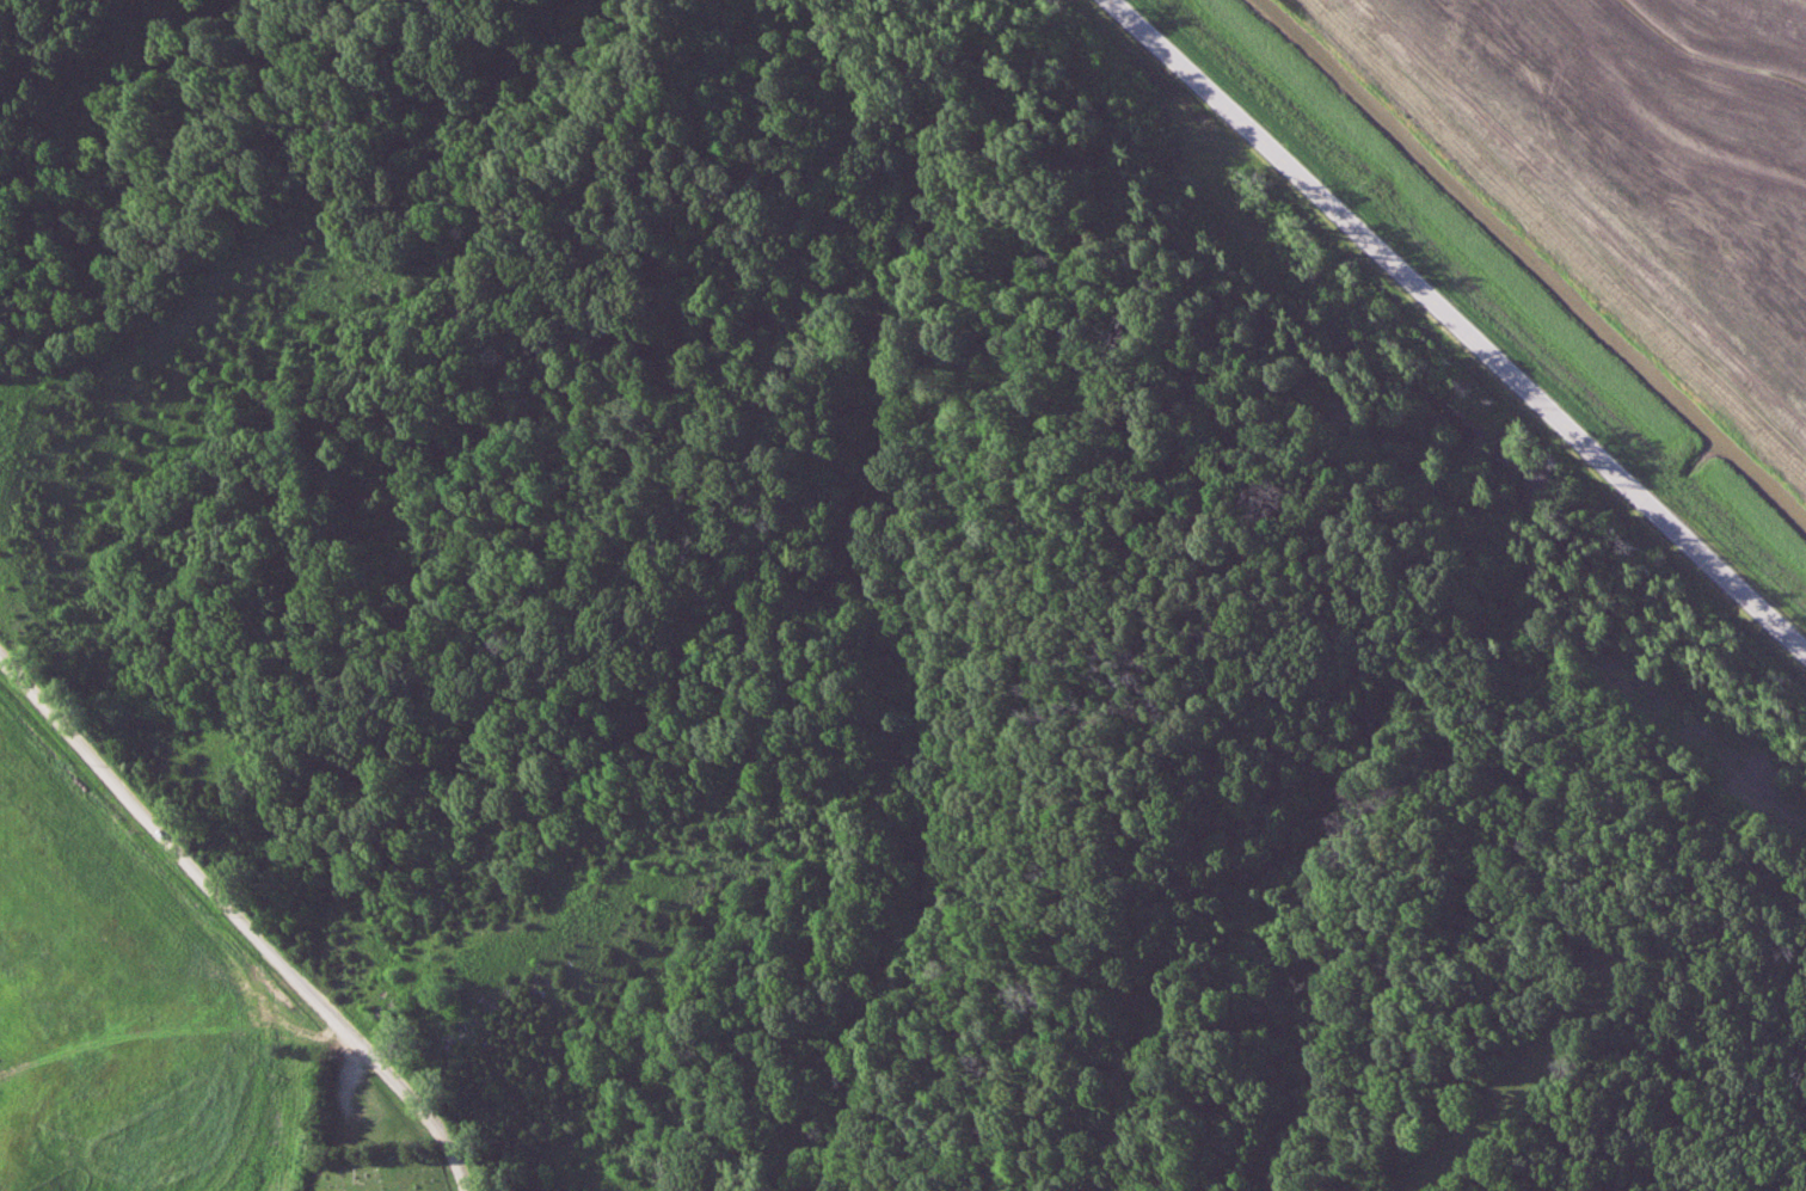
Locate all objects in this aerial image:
road: (1458, 329)
road: (241, 919)
park: (382, 1174)

